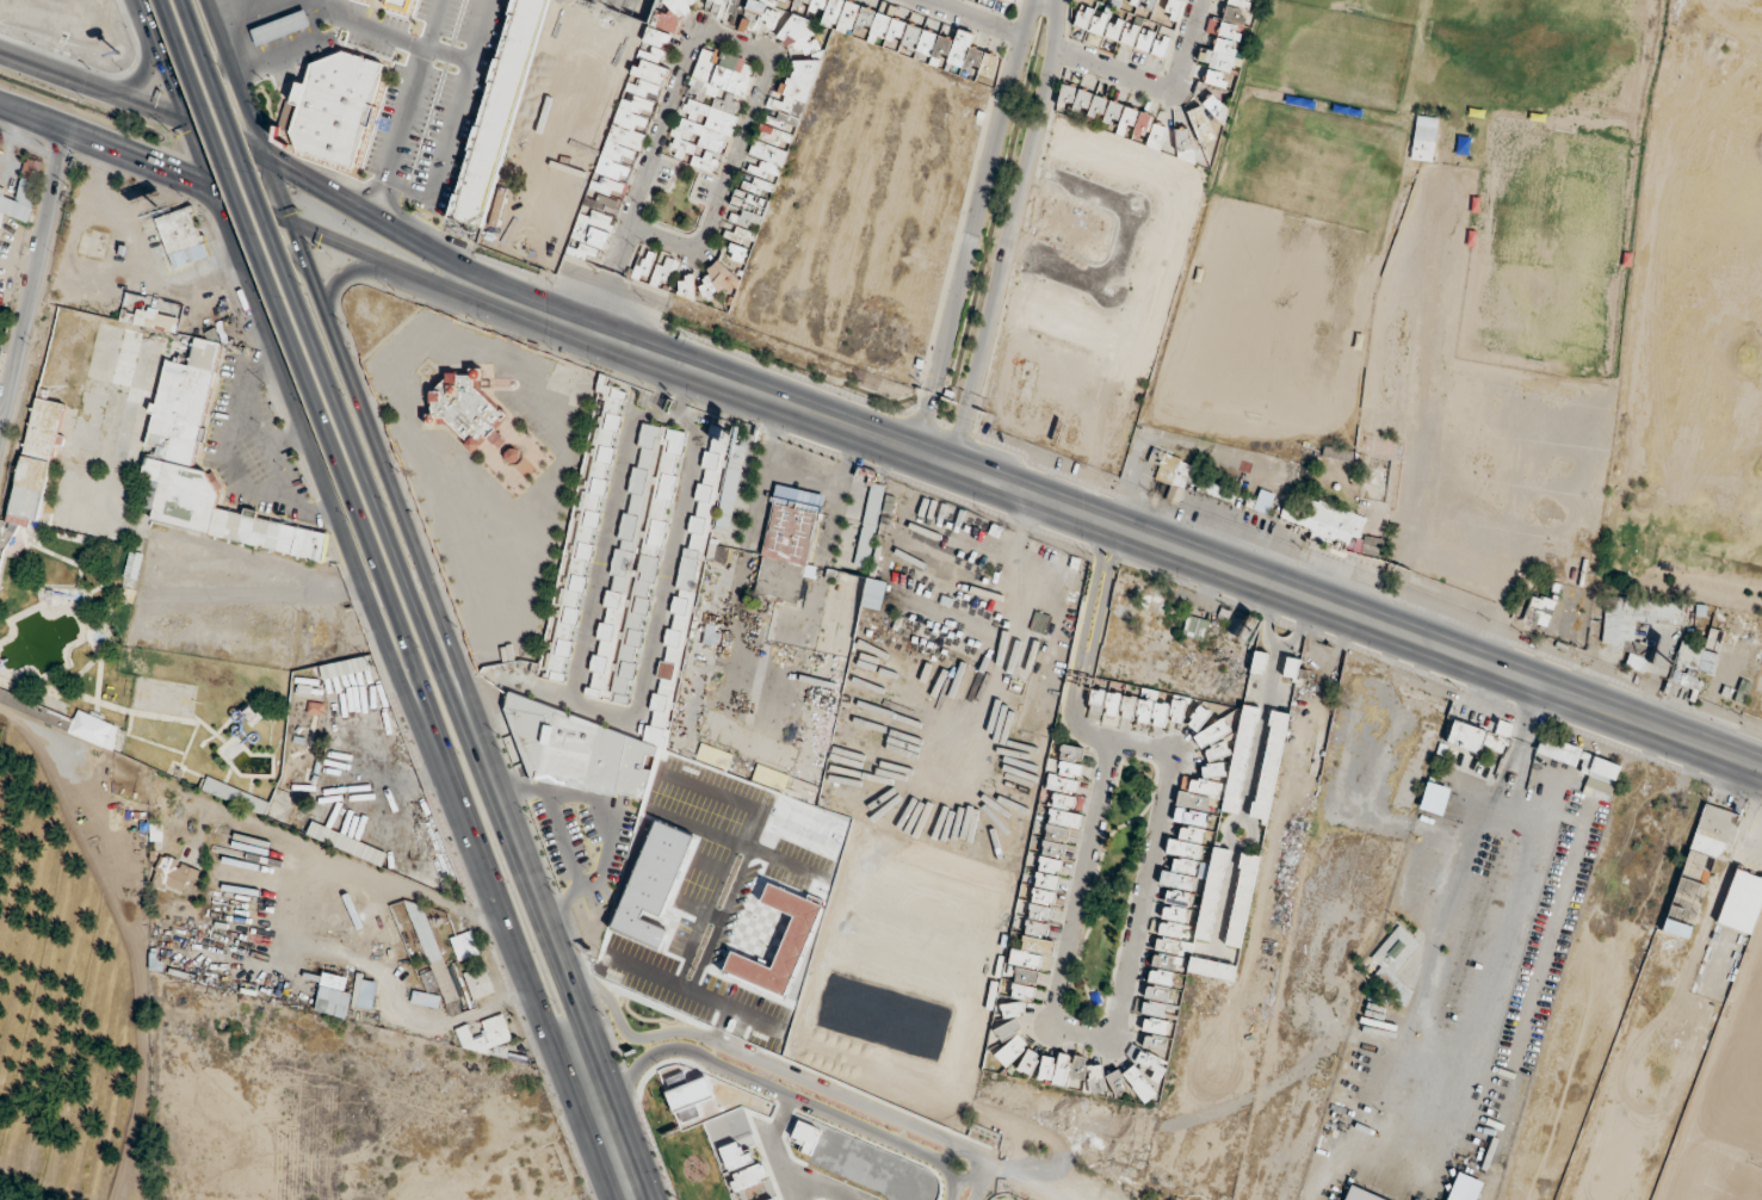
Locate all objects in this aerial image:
park: (1379, 7)
park: (1541, 55)
park: (1547, 249)
park: (1412, 289)
park: (1274, 318)

